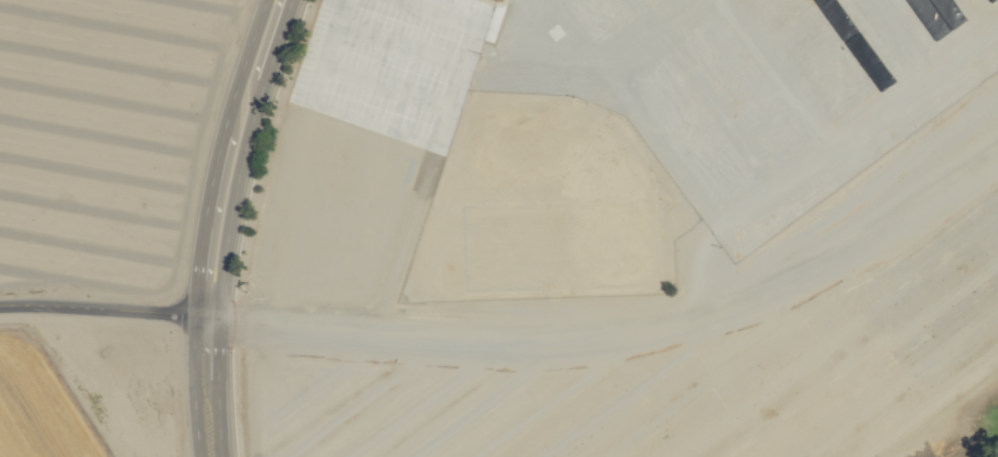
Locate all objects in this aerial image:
road: (276, 40)
road: (248, 49)
building: (483, 50)
road: (232, 196)
road: (206, 204)
road: (103, 307)
road: (206, 384)
airport: (38, 404)
park: (975, 441)

